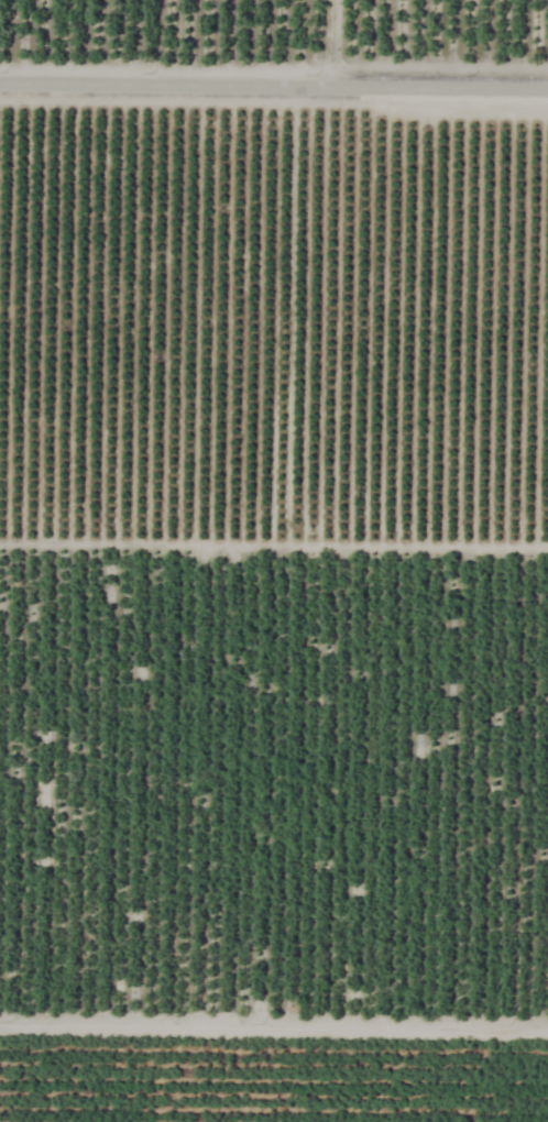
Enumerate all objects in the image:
road: (274, 84)
road: (274, 543)
crop: (274, 561)
road: (274, 1026)

